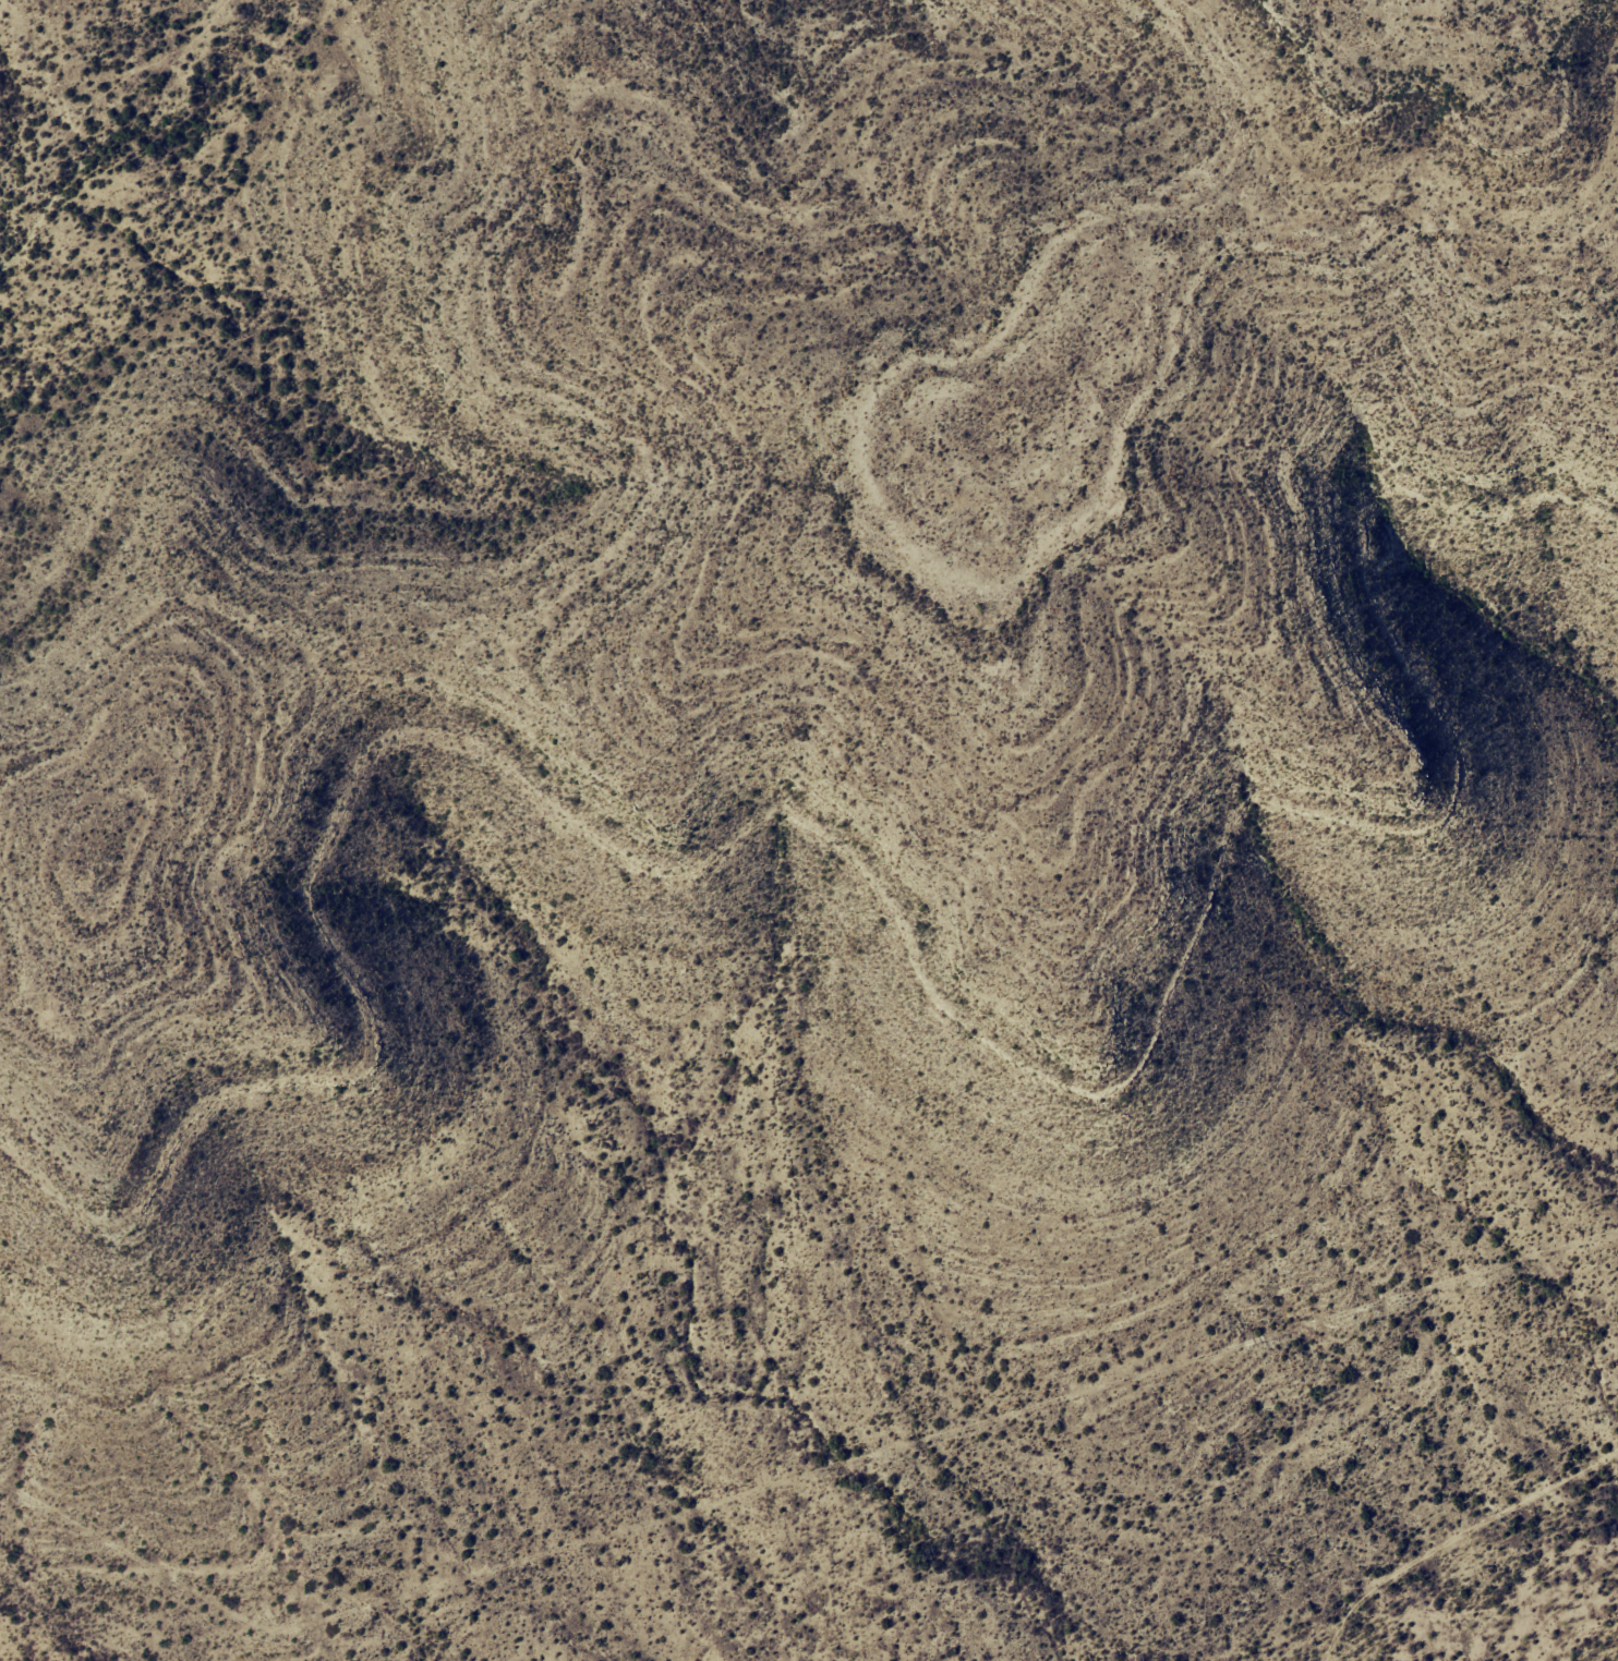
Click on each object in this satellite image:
road: (1452, 1538)

